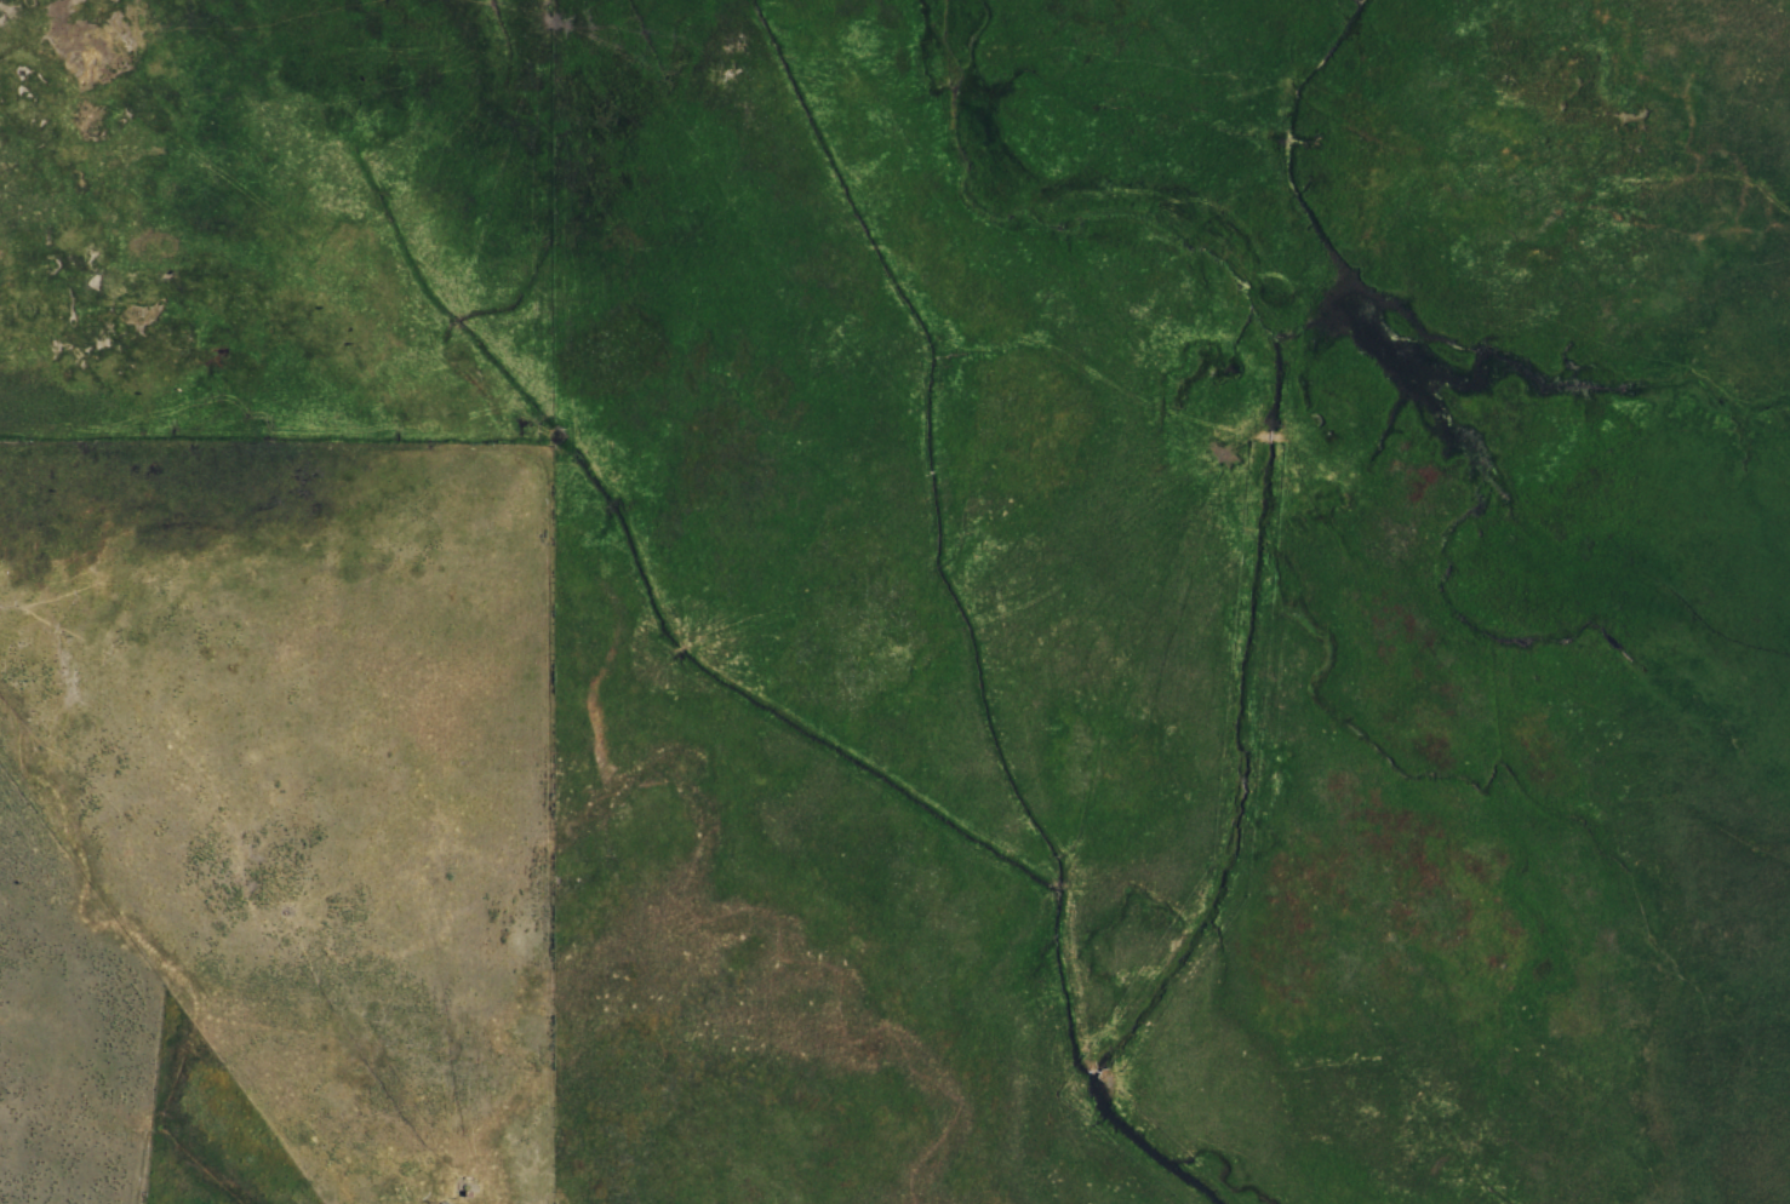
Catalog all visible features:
crop: (911, 592)

